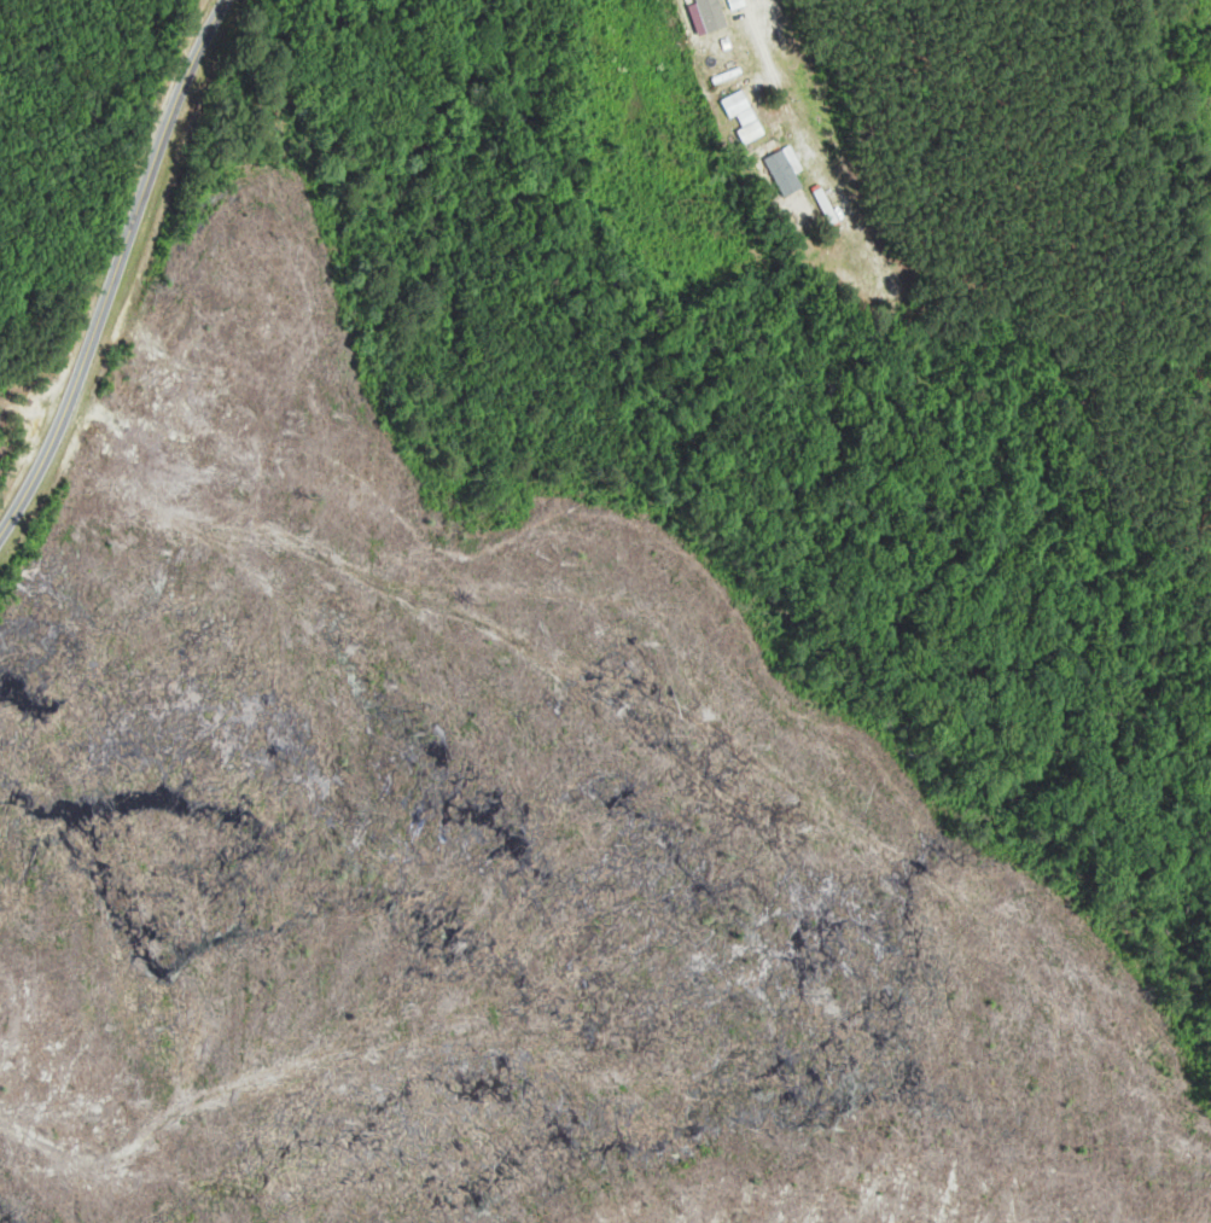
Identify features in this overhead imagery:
road: (768, 58)
building: (750, 132)
building: (784, 173)
road: (113, 268)

